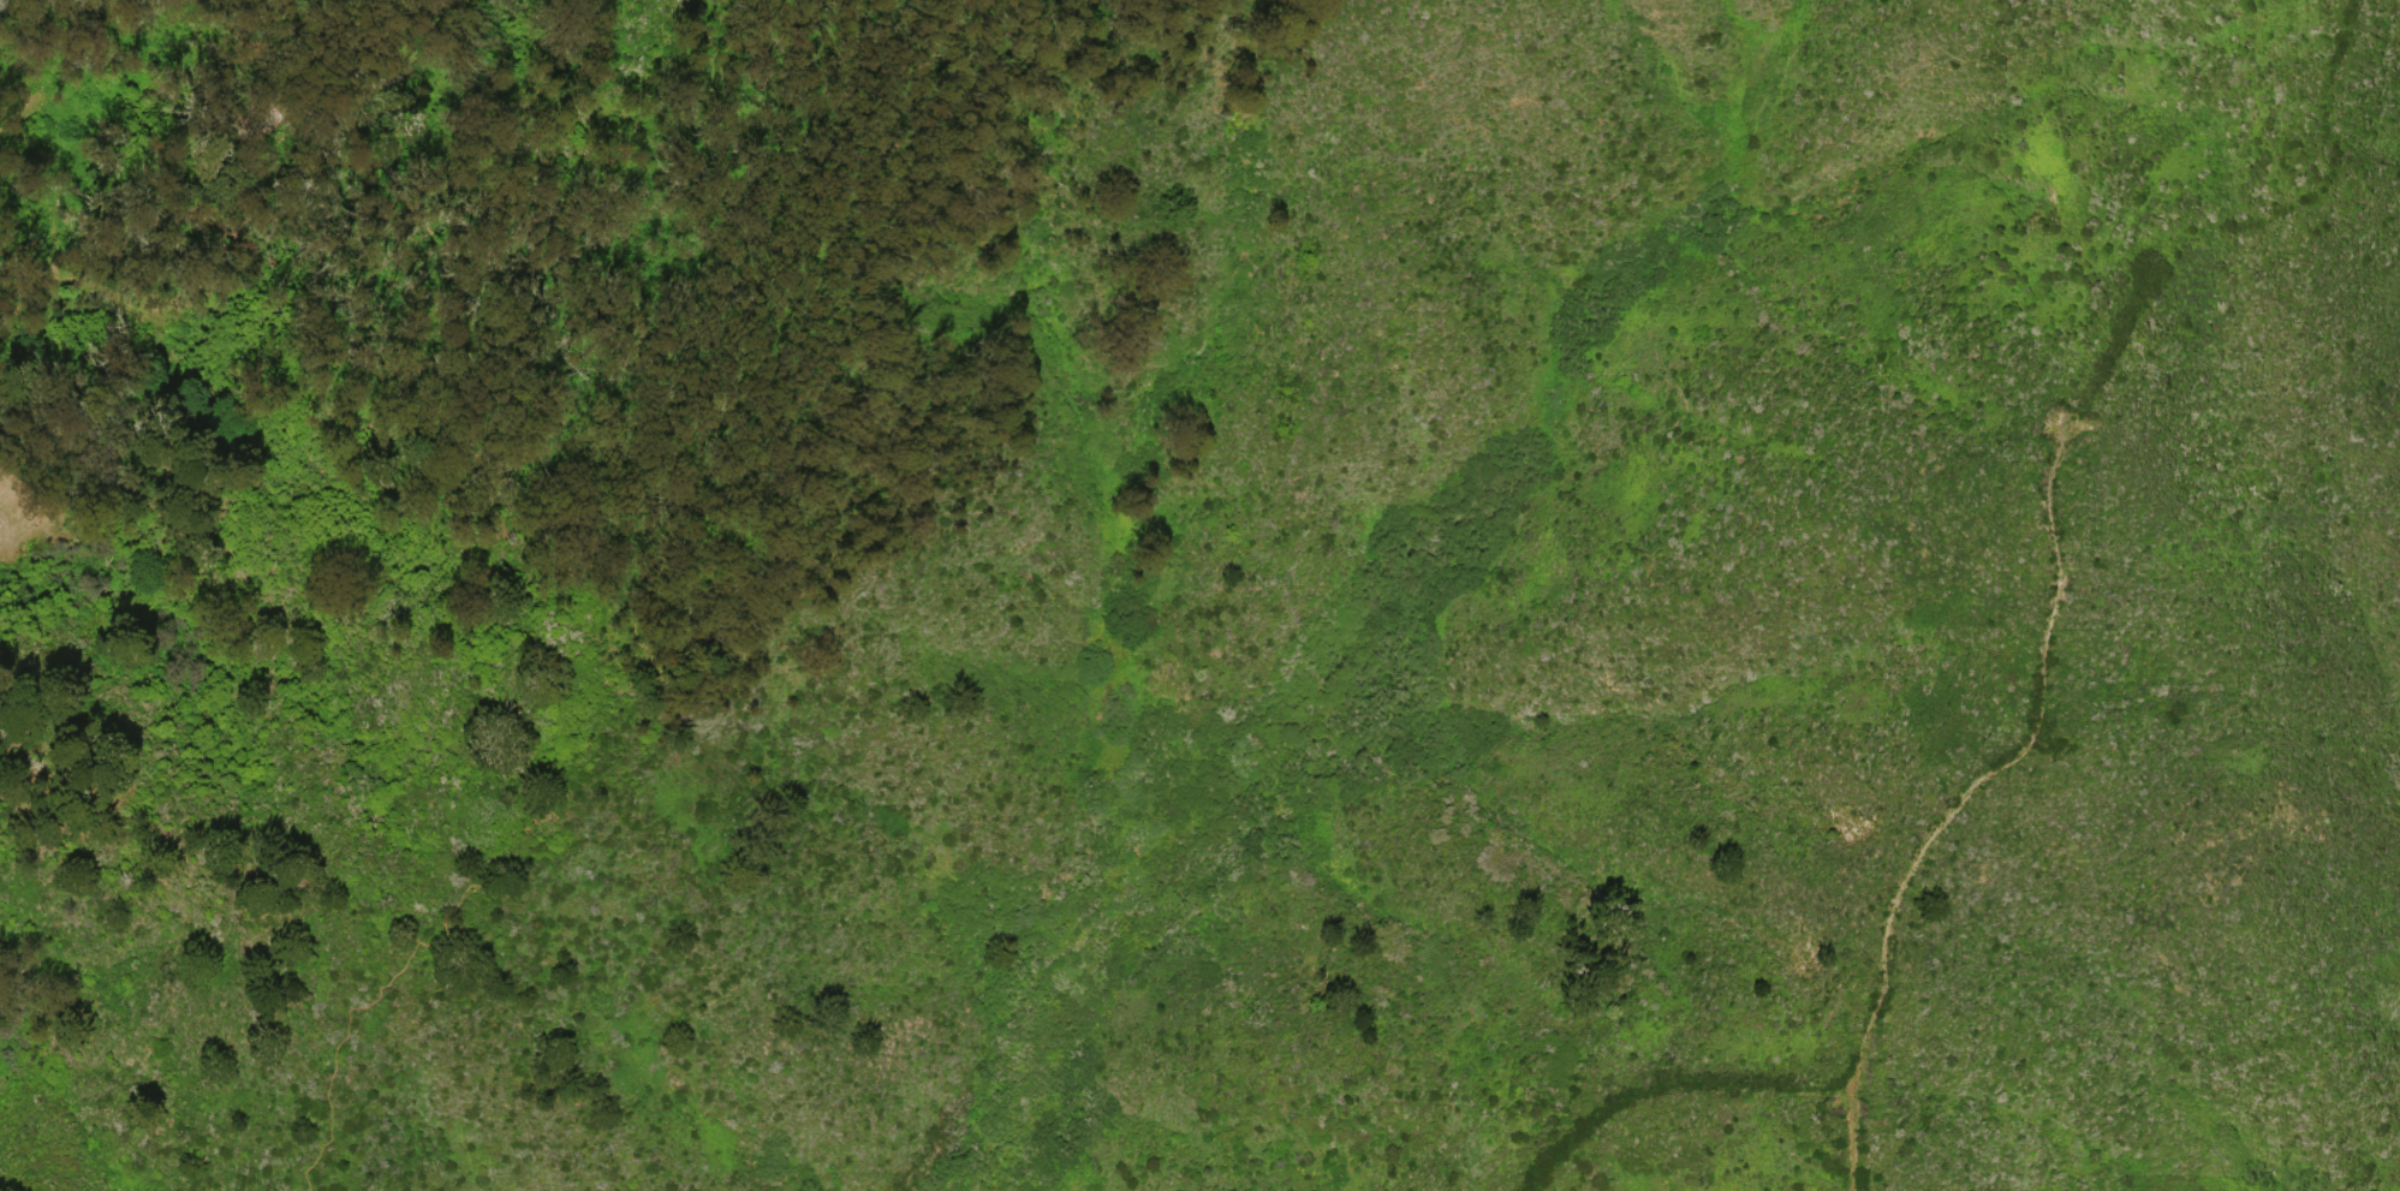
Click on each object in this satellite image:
park: (1193, 468)

